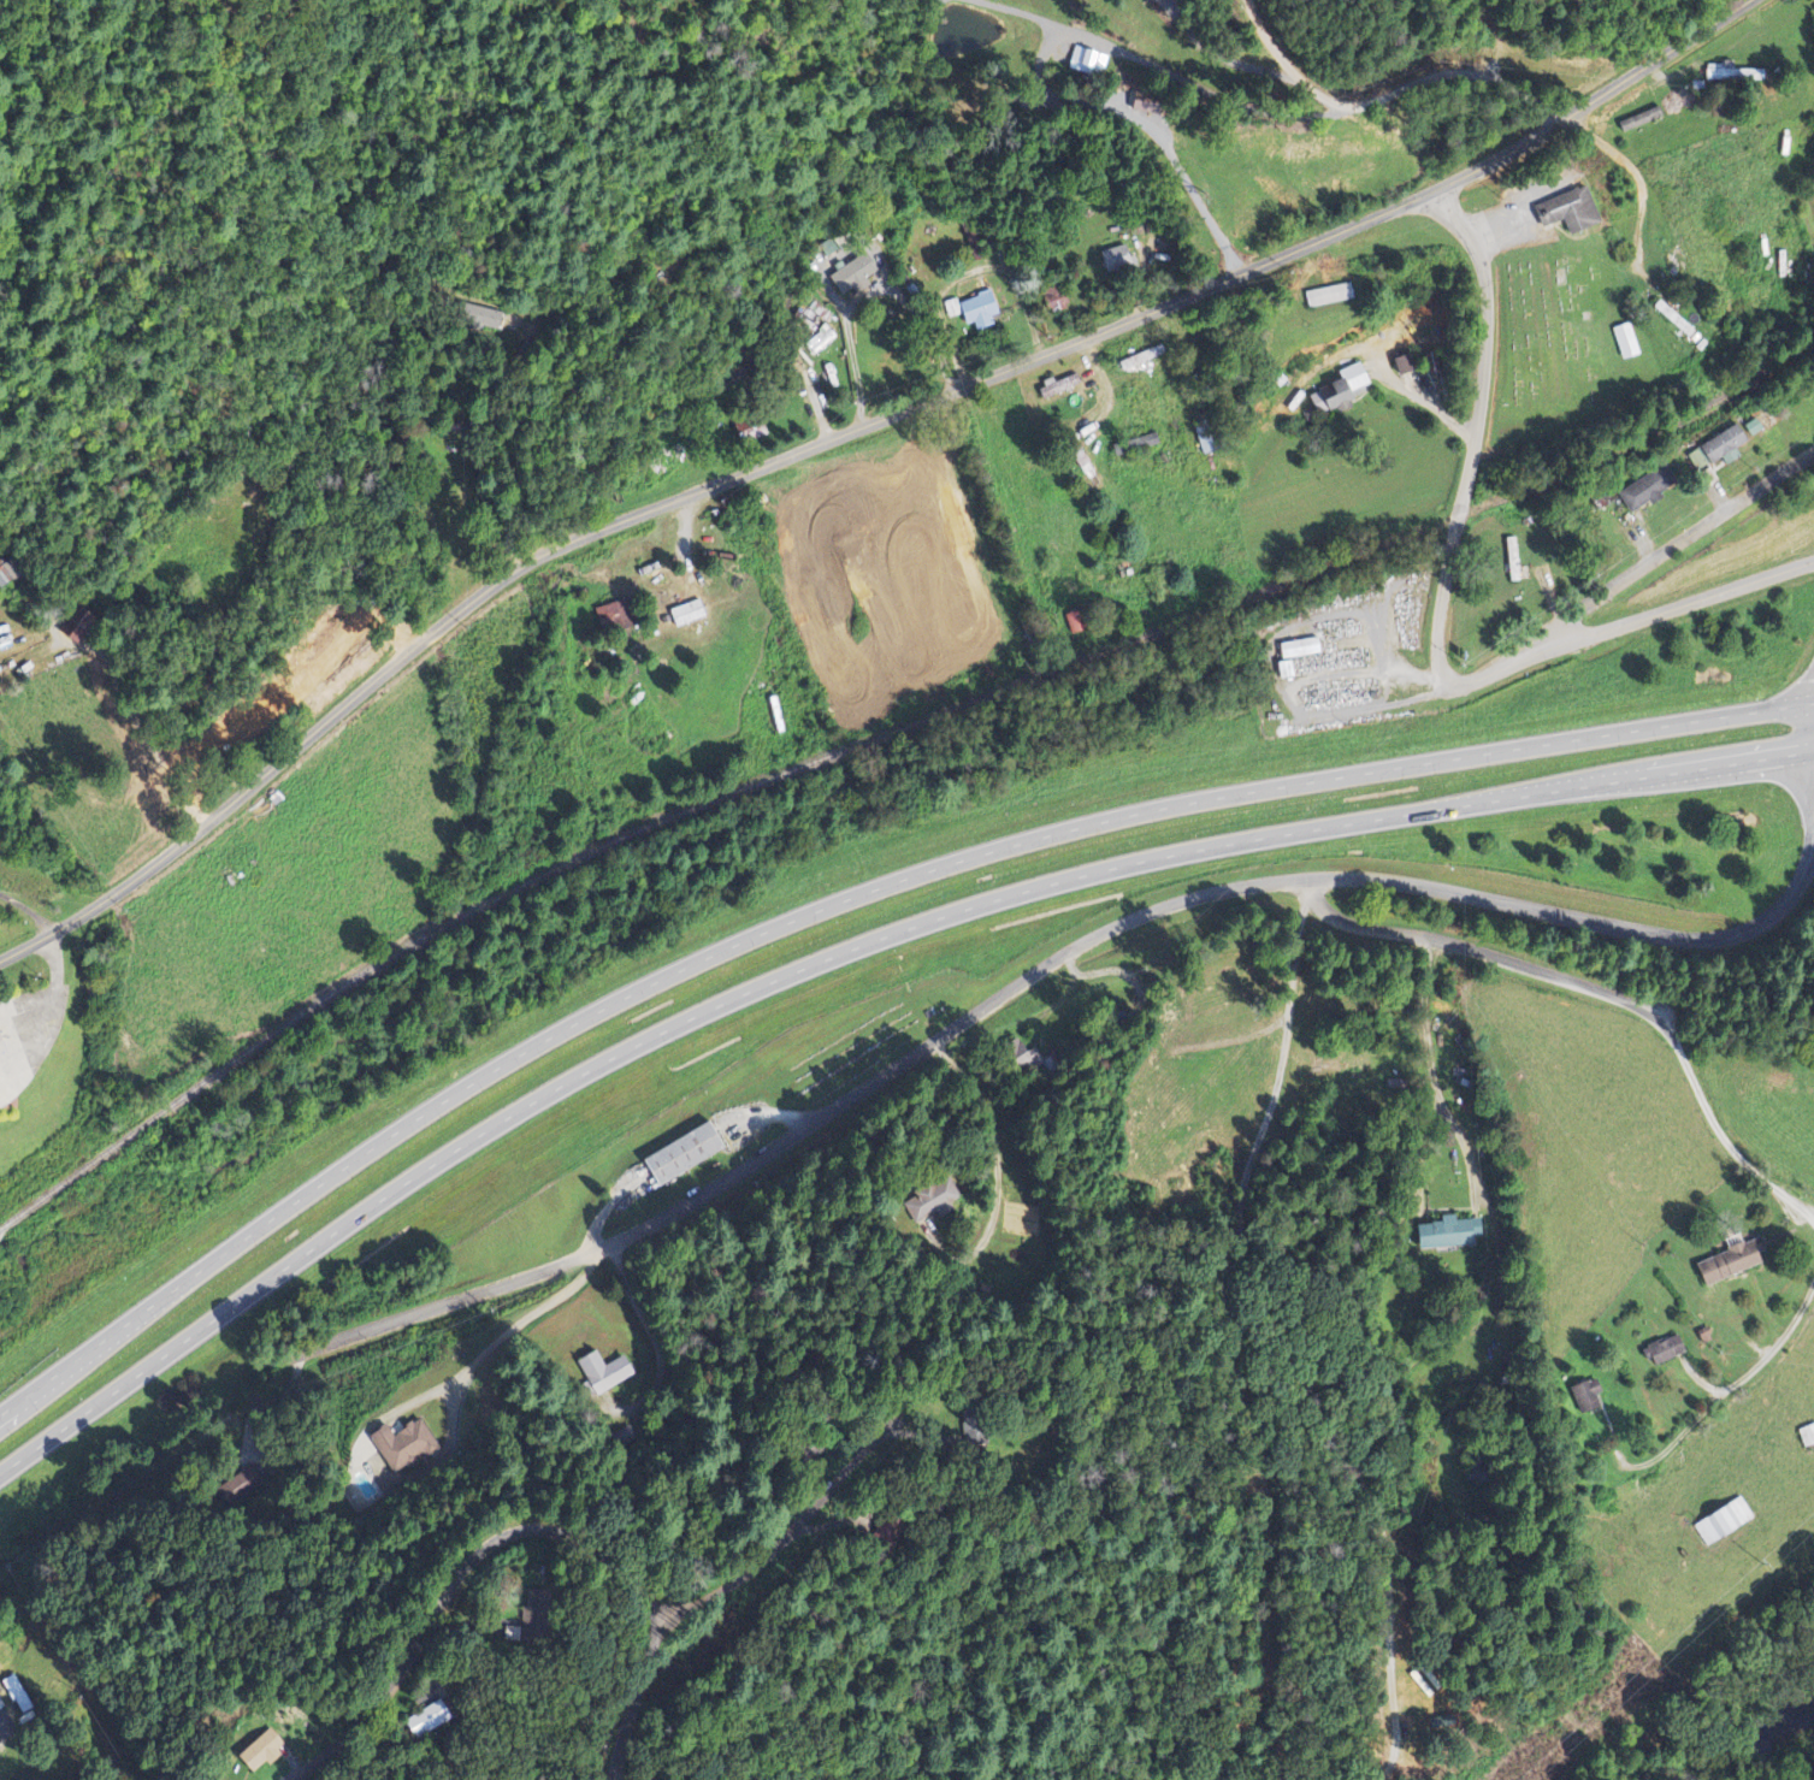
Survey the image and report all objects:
building: (1086, 61)
building: (1696, 64)
road: (1437, 73)
building: (1732, 75)
building: (1144, 105)
building: (1566, 211)
road: (1674, 231)
building: (1116, 260)
building: (851, 277)
building: (1328, 296)
building: (1053, 300)
building: (977, 311)
building: (811, 318)
building: (479, 319)
building: (822, 342)
building: (1624, 342)
building: (1056, 388)
building: (1341, 392)
road: (844, 432)
road: (1477, 433)
building: (1714, 449)
building: (1644, 490)
road: (1673, 549)
building: (4, 578)
building: (686, 614)
building: (609, 619)
road: (1629, 622)
building: (1298, 650)
railway: (880, 735)
road: (844, 900)
road: (841, 953)
road: (55, 958)
road: (1033, 972)
road: (1608, 992)
road: (46, 1043)
building: (1020, 1055)
building: (680, 1155)
building: (930, 1201)
building: (1447, 1235)
building: (1726, 1265)
road: (1282, 1332)
building: (1664, 1352)
building: (603, 1373)
road: (1727, 1388)
building: (1585, 1397)
building: (402, 1447)
building: (1721, 1522)
road: (786, 1538)
power tower: (1763, 1561)
road: (459, 1579)
road: (636, 1704)
building: (423, 1719)
river: (1771, 1746)
building: (259, 1751)

